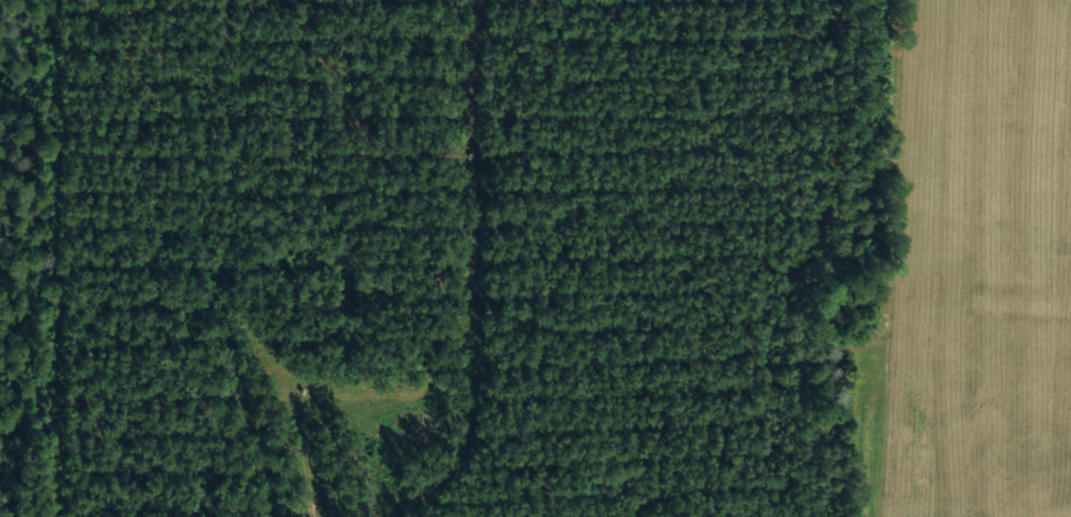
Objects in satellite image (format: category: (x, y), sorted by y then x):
road: (822, 258)

